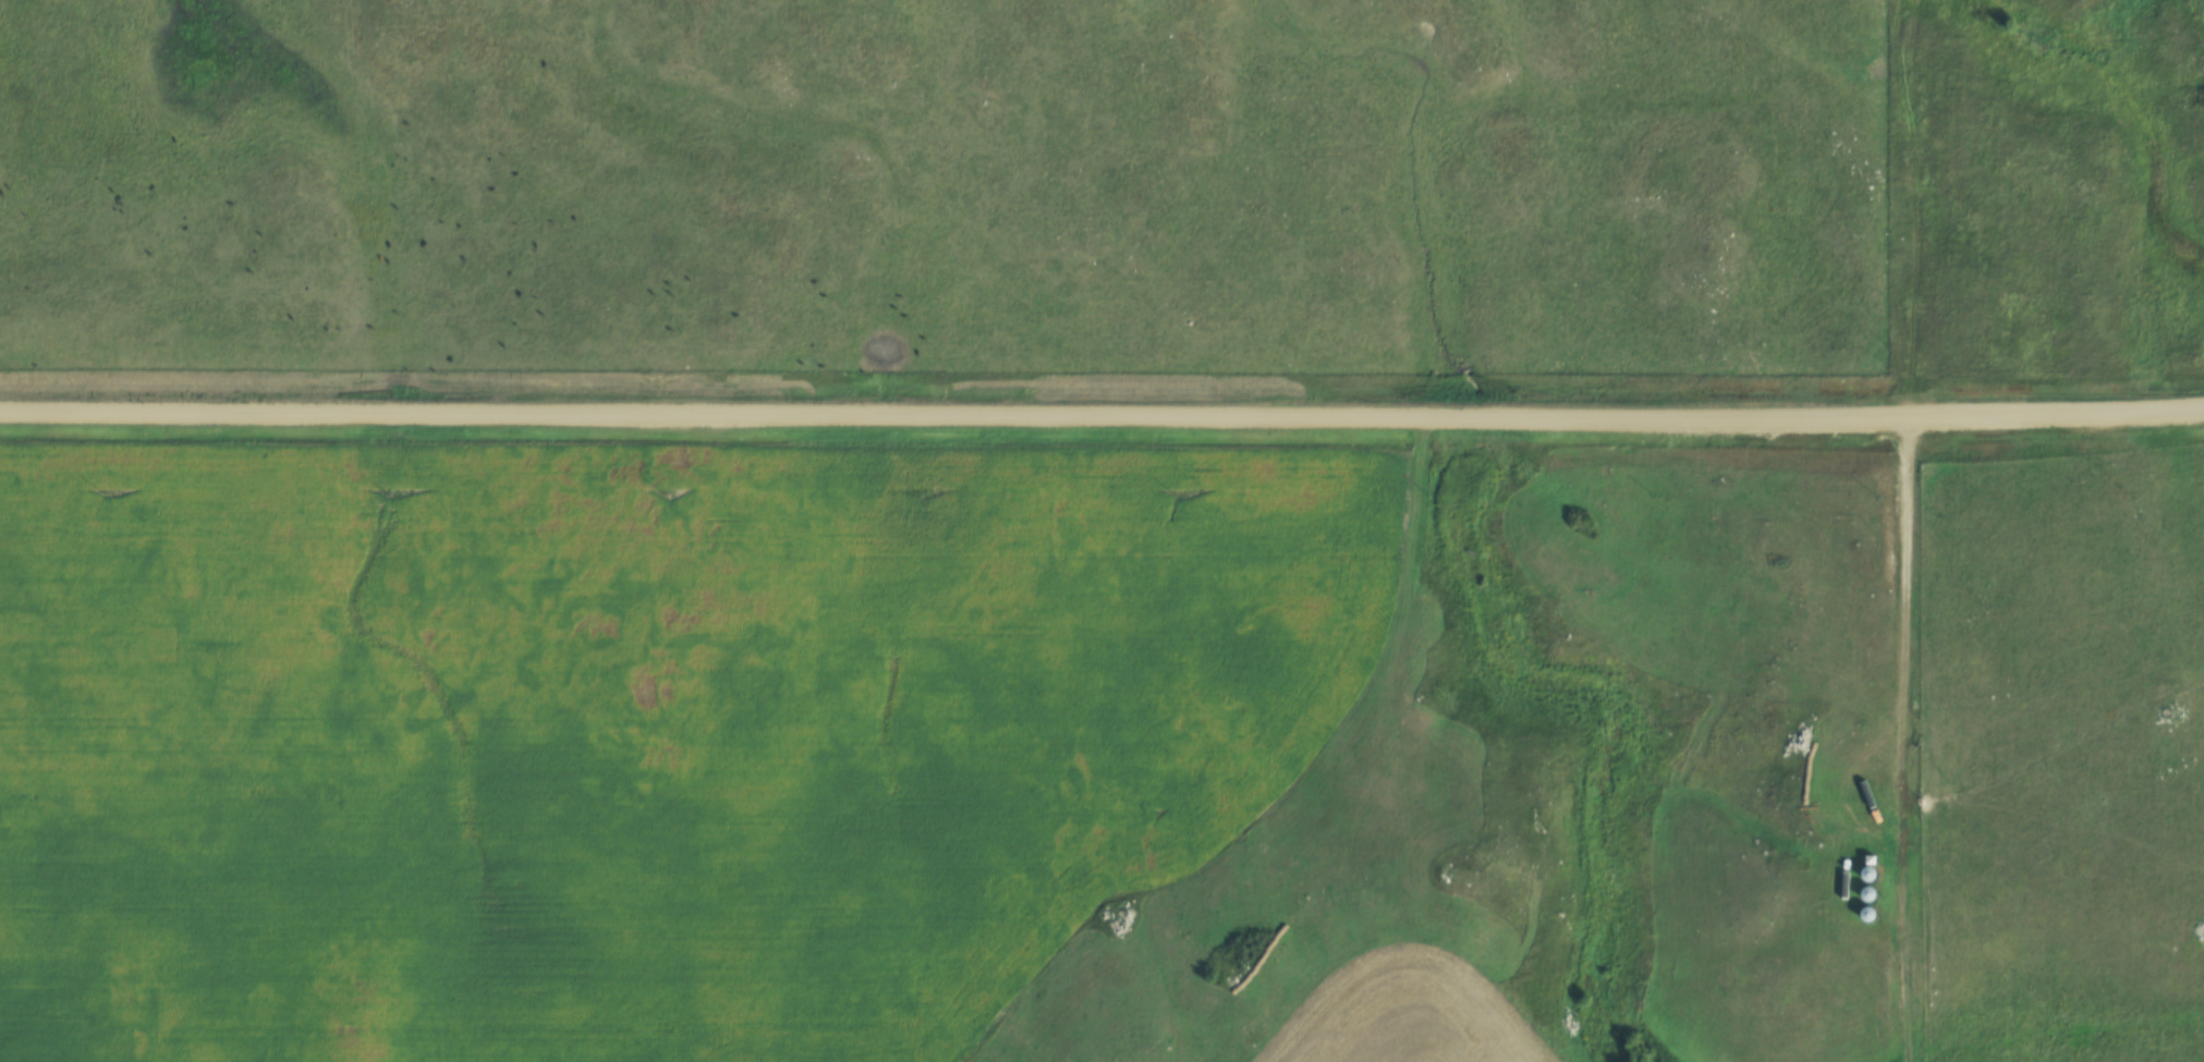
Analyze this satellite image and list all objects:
road: (1101, 420)
road: (1912, 743)
building: (1866, 874)
silo: (1866, 874)
building: (1866, 894)
silo: (1866, 894)
building: (1866, 914)
silo: (1866, 914)

